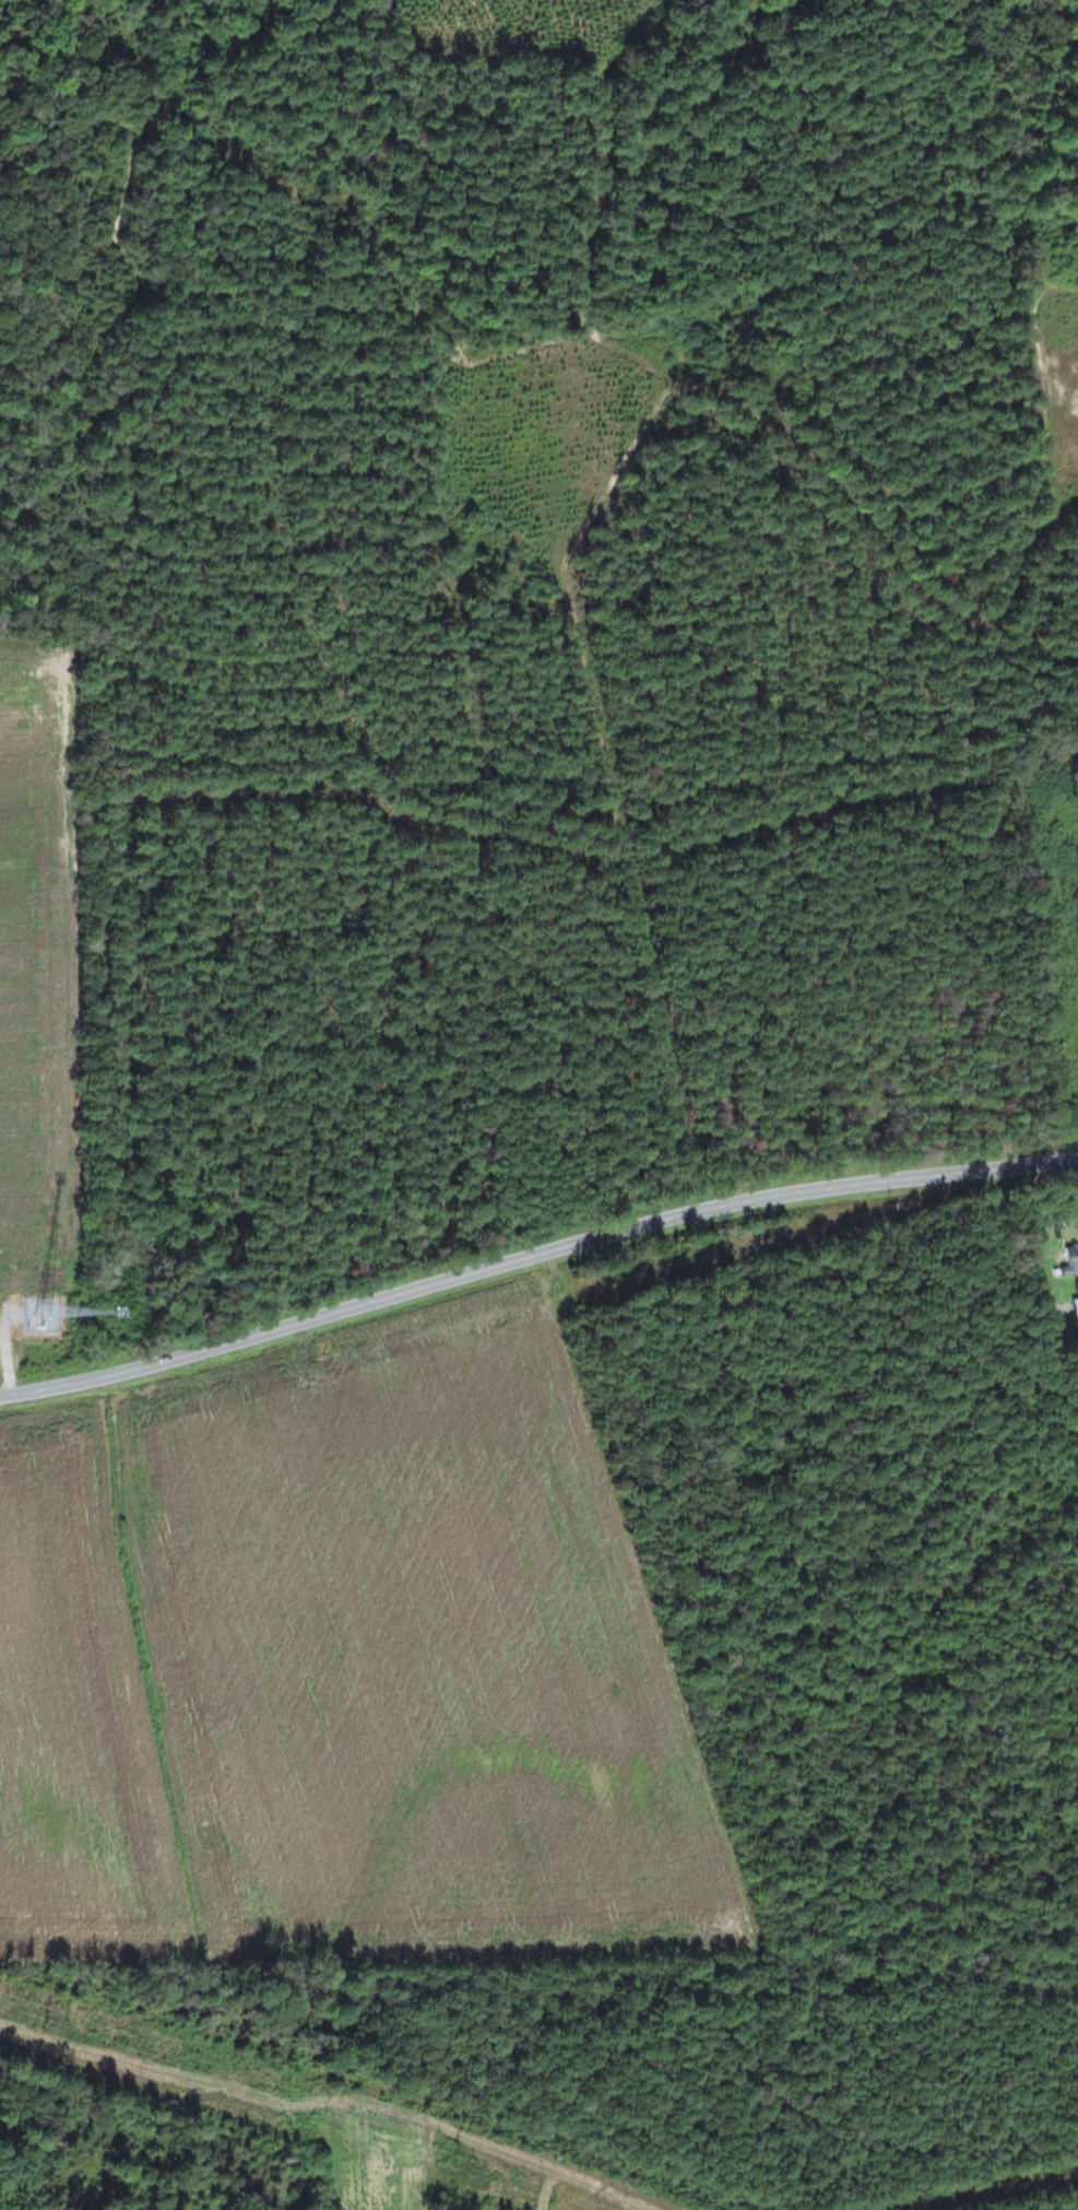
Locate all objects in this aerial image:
road: (534, 1256)
building: (1068, 1260)
building: (1073, 1307)
road: (3, 1351)
power tower: (48, 2023)
power tower: (452, 2161)

